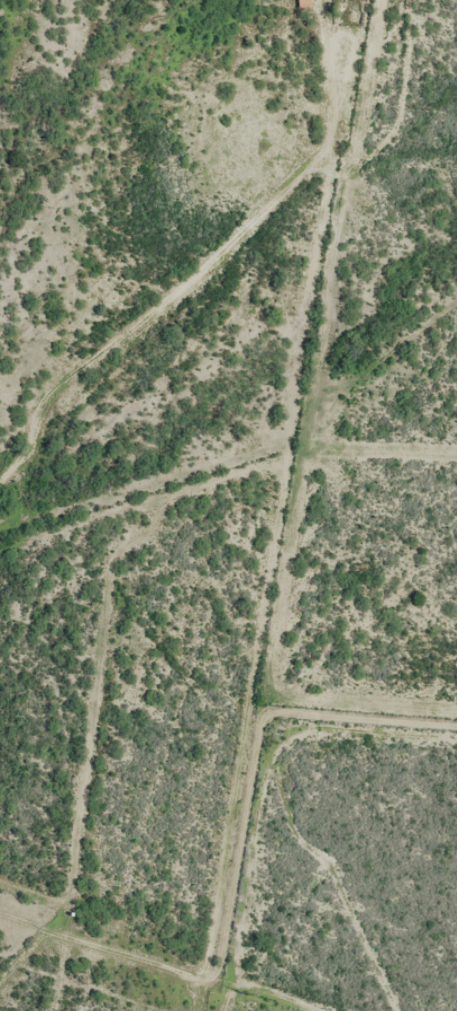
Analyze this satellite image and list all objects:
road: (267, 122)
road: (222, 316)
power tower: (246, 992)

